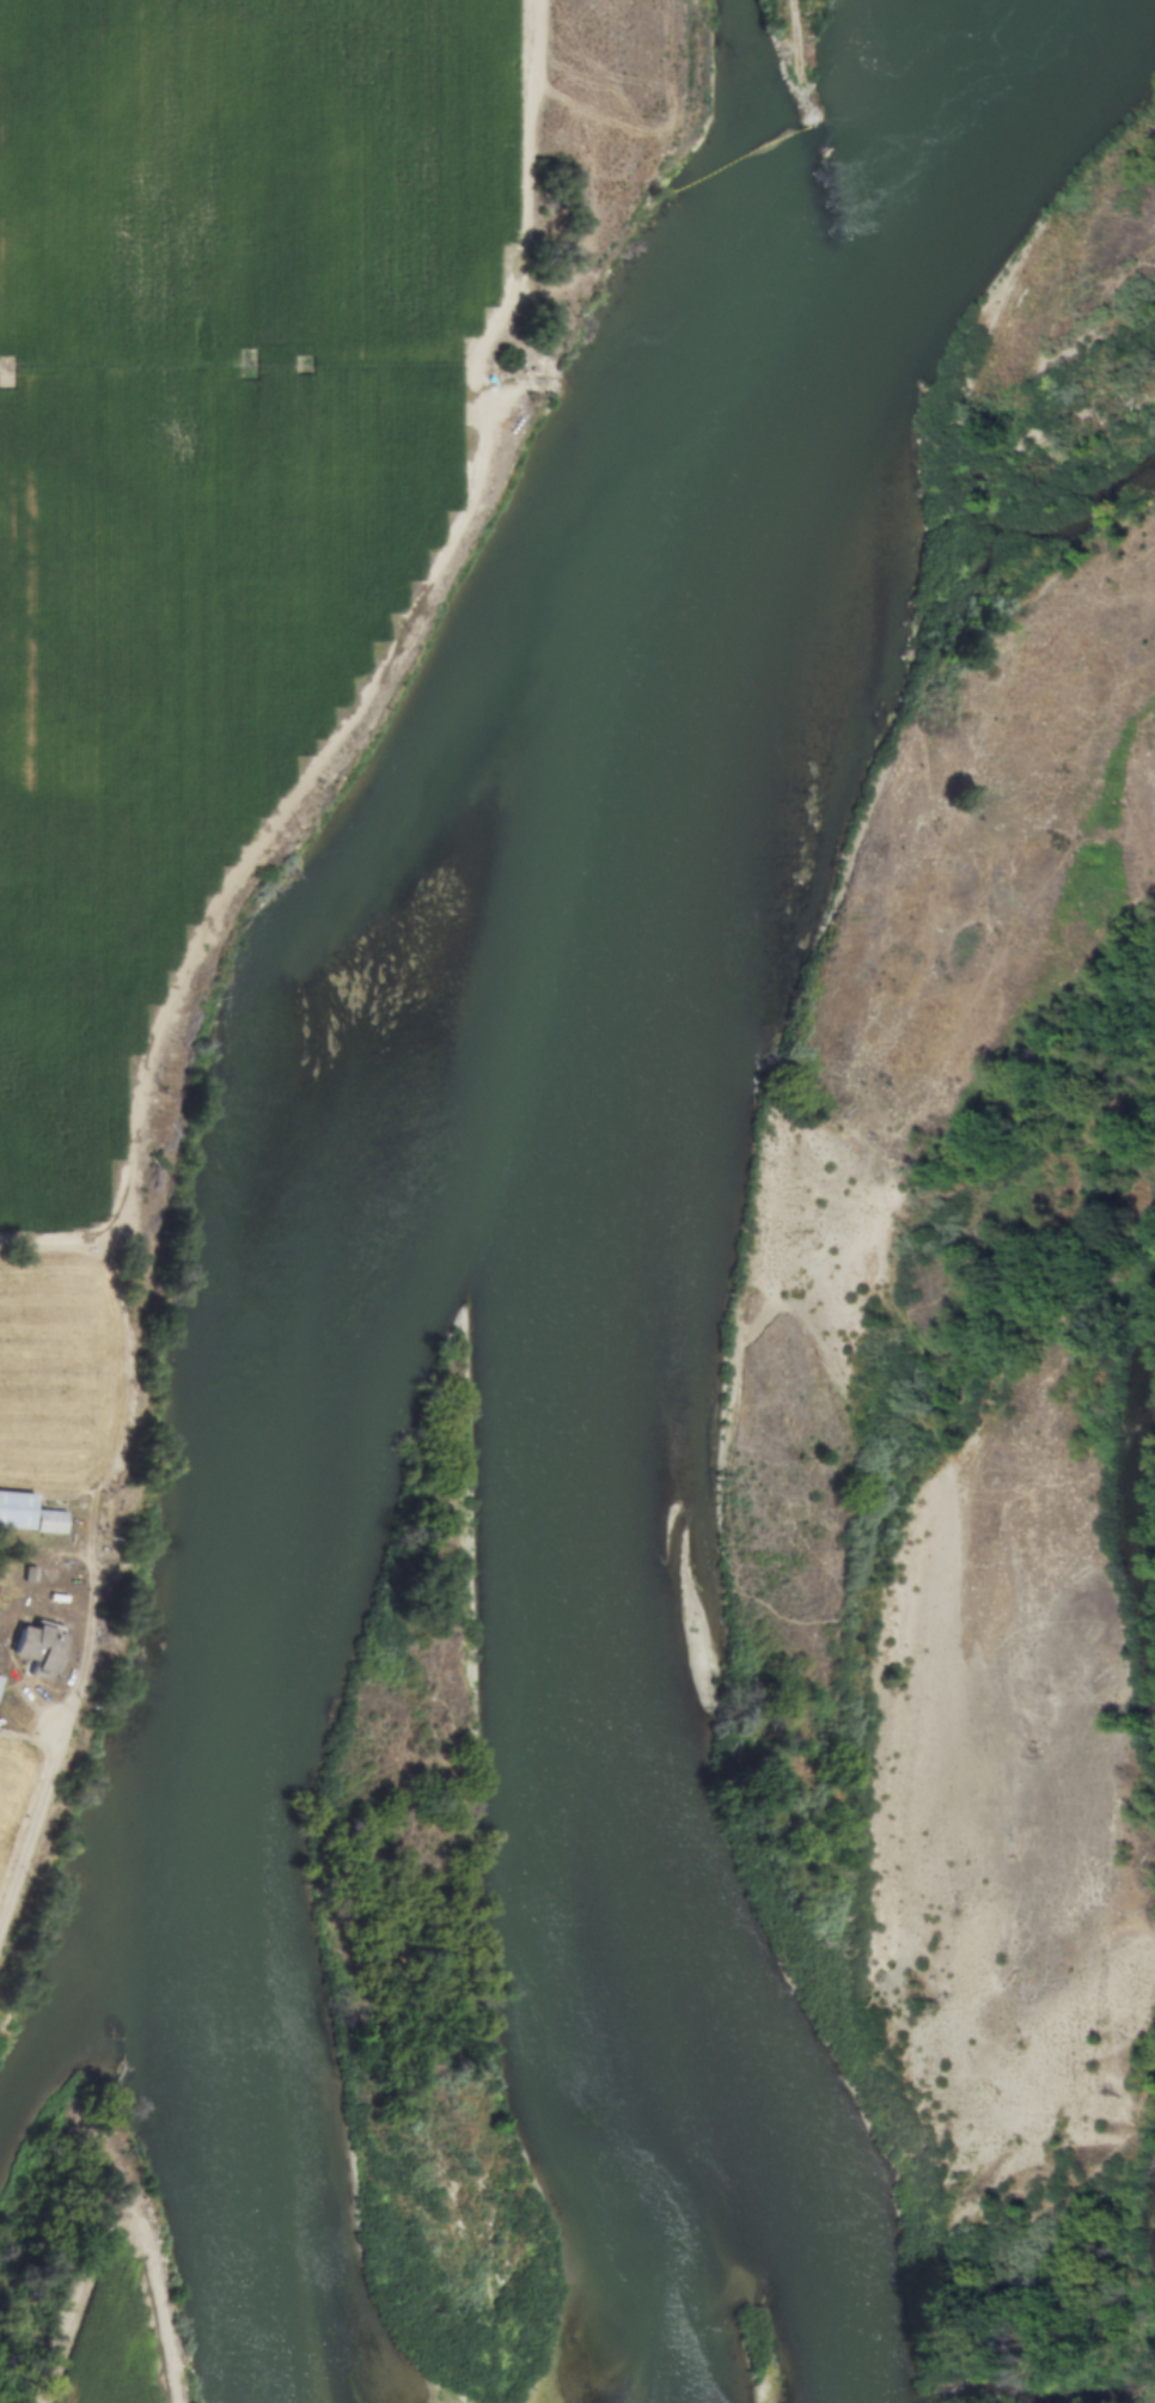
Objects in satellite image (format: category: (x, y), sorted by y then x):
river: (601, 1148)
building: (16, 1511)
building: (49, 1523)
road: (88, 1617)
building: (38, 1651)
building: (0, 1679)
road: (32, 1825)

